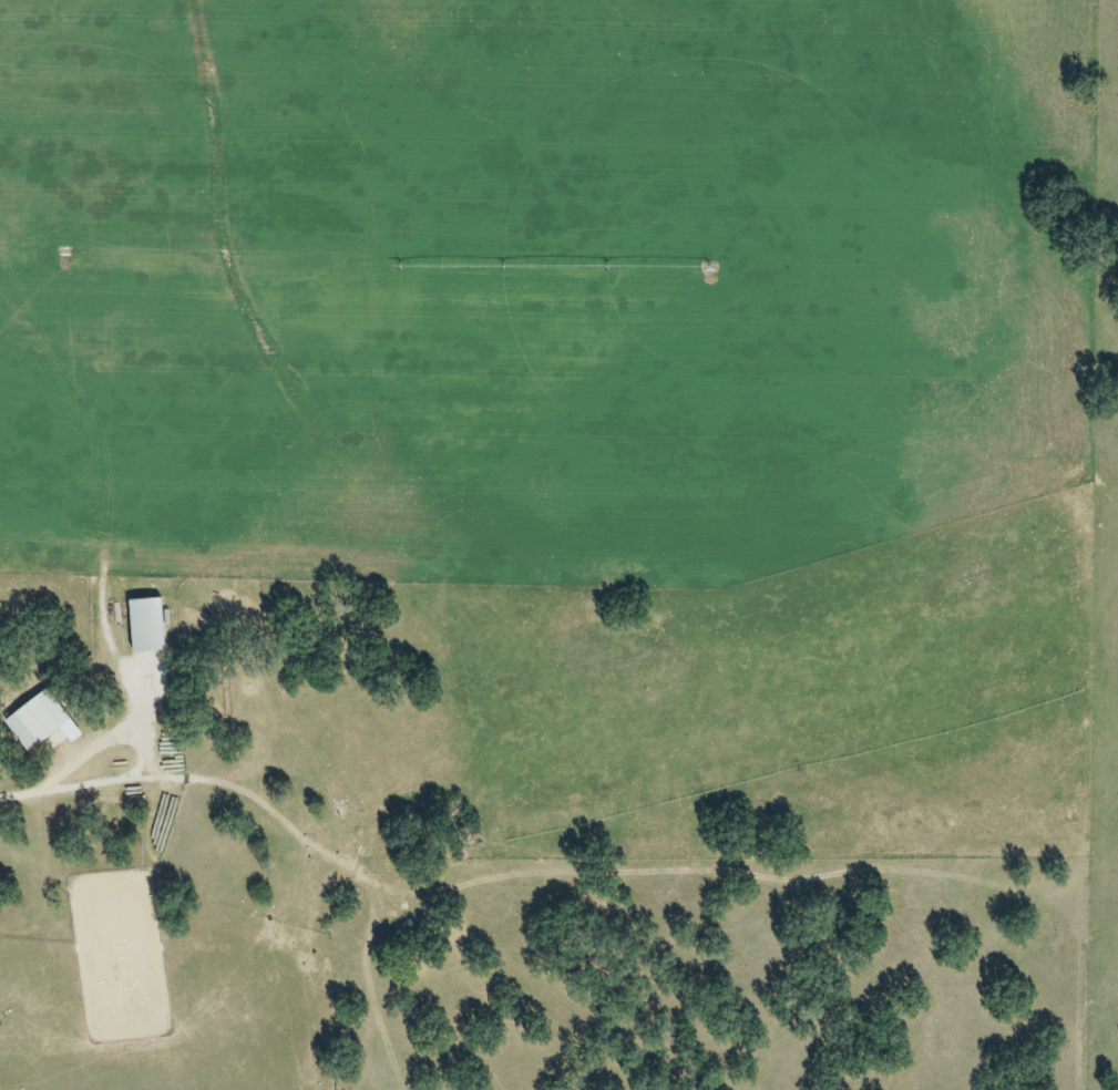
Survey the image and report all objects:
building: (146, 627)
building: (35, 723)
road: (75, 781)

